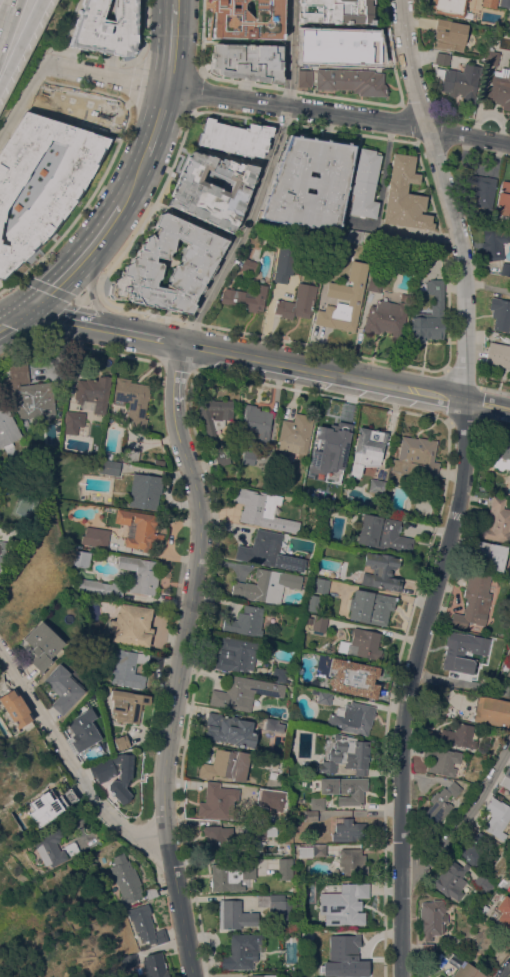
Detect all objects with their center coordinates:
road: (178, 2)
road: (3, 3)
building: (489, 3)
building: (504, 3)
building: (449, 7)
building: (337, 11)
building: (248, 18)
building: (107, 27)
building: (449, 34)
road: (19, 41)
building: (345, 42)
building: (306, 45)
road: (174, 46)
building: (491, 57)
building: (442, 58)
building: (247, 61)
building: (304, 78)
building: (351, 81)
building: (461, 81)
building: (500, 88)
building: (44, 99)
road: (25, 100)
road: (279, 105)
building: (87, 107)
road: (161, 122)
building: (235, 137)
road: (268, 180)
road: (136, 182)
building: (310, 183)
building: (365, 183)
building: (213, 190)
building: (480, 190)
building: (58, 195)
building: (405, 195)
road: (450, 197)
building: (503, 199)
building: (355, 235)
building: (494, 242)
building: (412, 243)
building: (284, 259)
road: (80, 263)
building: (197, 263)
building: (248, 265)
building: (505, 268)
road: (96, 281)
building: (375, 283)
building: (245, 298)
building: (297, 302)
traffic signals: (26, 308)
building: (339, 309)
building: (500, 313)
building: (430, 315)
road: (13, 317)
building: (386, 318)
road: (73, 320)
road: (2, 323)
road: (152, 337)
building: (498, 354)
road: (179, 356)
road: (247, 356)
building: (19, 375)
road: (388, 385)
building: (94, 392)
building: (34, 399)
building: (133, 401)
road: (487, 403)
building: (73, 421)
building: (215, 424)
building: (255, 425)
building: (7, 427)
building: (234, 427)
building: (295, 433)
building: (332, 434)
building: (367, 448)
building: (498, 453)
building: (130, 454)
building: (17, 455)
building: (248, 457)
building: (417, 457)
building: (109, 467)
building: (376, 485)
building: (335, 486)
building: (145, 491)
building: (262, 509)
building: (498, 521)
building: (141, 529)
building: (369, 529)
building: (96, 537)
building: (394, 537)
building: (68, 539)
building: (268, 551)
building: (1, 552)
building: (488, 556)
building: (81, 558)
building: (382, 570)
building: (509, 571)
building: (140, 574)
building: (267, 585)
building: (320, 585)
building: (101, 587)
building: (312, 602)
building: (474, 602)
building: (370, 607)
building: (246, 621)
building: (319, 623)
building: (132, 625)
building: (44, 644)
building: (362, 644)
building: (461, 651)
building: (508, 653)
building: (237, 654)
building: (127, 667)
building: (509, 670)
road: (180, 672)
building: (509, 673)
building: (279, 674)
building: (353, 677)
road: (413, 685)
building: (62, 688)
building: (243, 693)
building: (324, 698)
building: (127, 705)
building: (494, 707)
building: (16, 708)
building: (352, 718)
building: (271, 724)
building: (230, 729)
building: (84, 730)
building: (454, 736)
building: (122, 742)
building: (347, 755)
road: (70, 759)
building: (441, 760)
building: (226, 765)
building: (115, 775)
building: (506, 778)
building: (345, 789)
building: (270, 799)
building: (215, 801)
building: (441, 802)
building: (317, 803)
building: (49, 805)
building: (311, 816)
building: (497, 817)
road: (464, 821)
building: (258, 830)
building: (349, 830)
building: (219, 839)
building: (472, 846)
building: (54, 848)
building: (312, 850)
building: (353, 861)
building: (285, 868)
building: (230, 875)
building: (491, 875)
building: (126, 879)
building: (451, 879)
building: (483, 882)
building: (150, 892)
building: (344, 904)
building: (277, 905)
building: (504, 910)
building: (235, 915)
building: (433, 918)
building: (146, 925)
building: (427, 948)
building: (241, 951)
building: (350, 955)
building: (129, 959)
building: (155, 965)
building: (459, 966)
road: (505, 972)
building: (263, 975)

